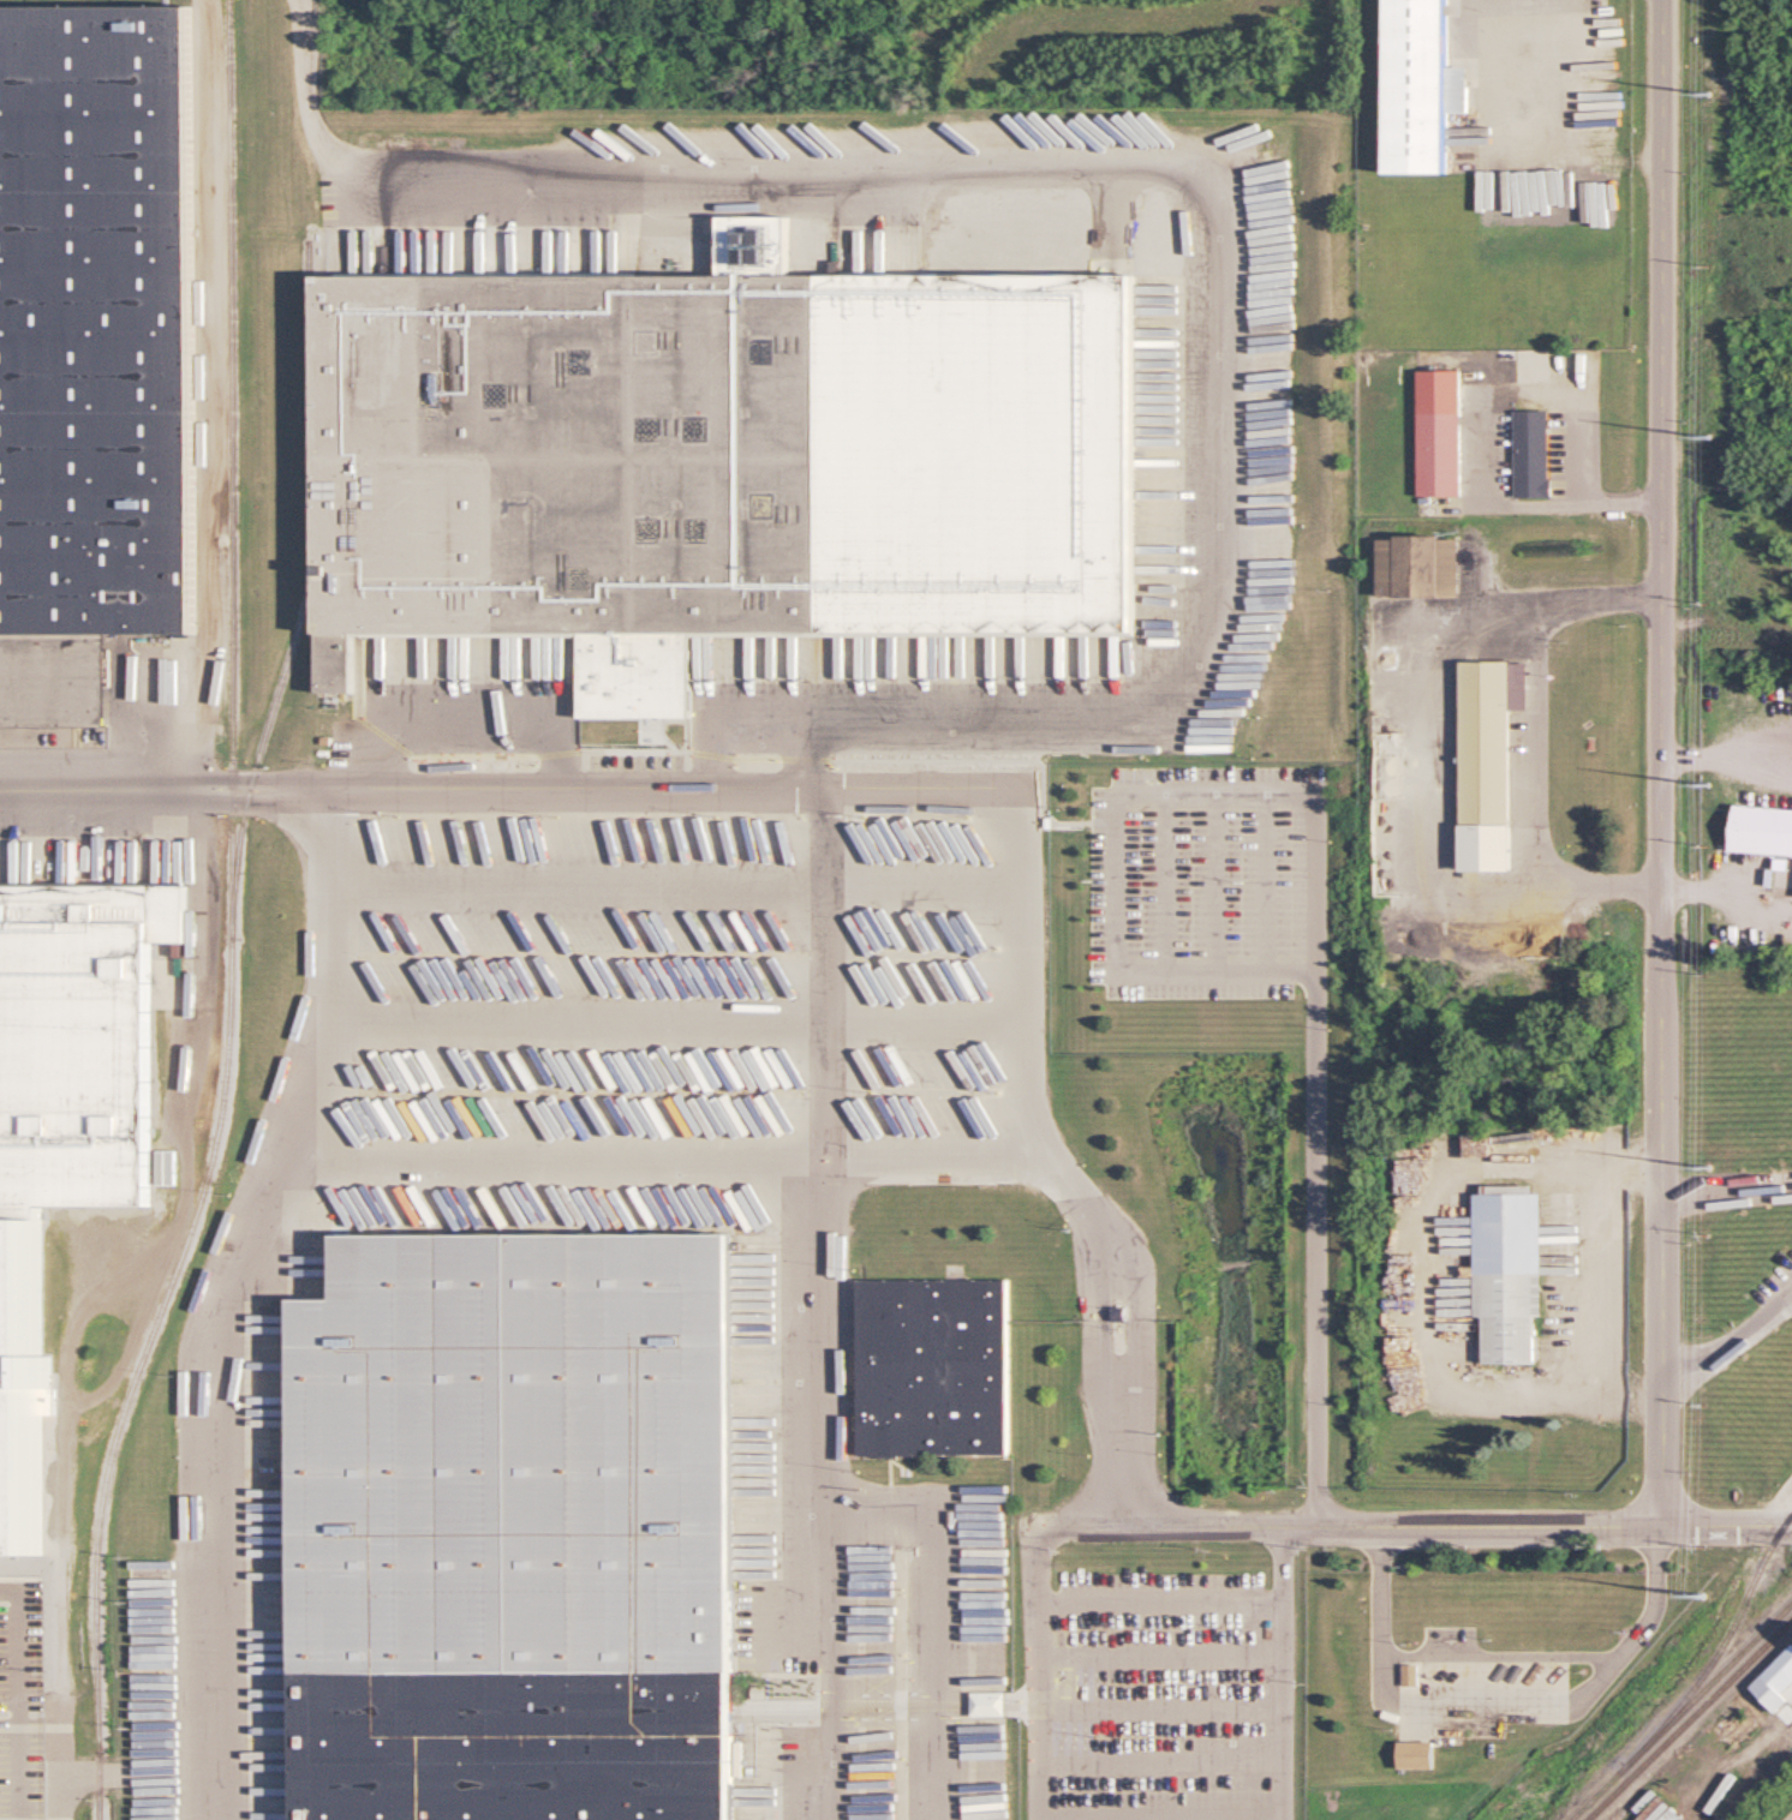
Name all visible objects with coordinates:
road: (1521, 77)
building: (1420, 85)
road: (310, 90)
road: (1206, 186)
building: (91, 333)
road: (205, 389)
road: (1577, 417)
building: (709, 425)
building: (1440, 433)
road: (1487, 450)
building: (1531, 454)
road: (1591, 505)
building: (1420, 567)
railway: (305, 574)
road: (758, 695)
road: (461, 704)
road: (1728, 741)
road: (1535, 742)
building: (1488, 760)
road: (1666, 764)
road: (1430, 765)
road: (900, 783)
road: (1073, 819)
building: (1762, 831)
road: (676, 860)
road: (1113, 882)
road: (1164, 884)
road: (1213, 884)
road: (1261, 884)
road: (1731, 896)
railway: (229, 918)
road: (834, 965)
road: (674, 1000)
building: (66, 1085)
road: (482, 1155)
road: (1324, 1162)
building: (166, 1167)
road: (1728, 1192)
building: (1504, 1269)
road: (1417, 1276)
road: (1596, 1280)
road: (835, 1323)
road: (1728, 1346)
building: (927, 1363)
road: (223, 1477)
road: (872, 1497)
road: (1776, 1508)
building: (510, 1511)
road: (1462, 1526)
road: (1161, 1596)
road: (1040, 1626)
railway: (1719, 1647)
road: (1161, 1650)
road: (1283, 1672)
building: (1410, 1675)
building: (1774, 1682)
road: (19, 1696)
road: (1161, 1701)
road: (1498, 1704)
railway: (1682, 1712)
railway: (1689, 1719)
building: (1416, 1755)
road: (1163, 1760)
road: (1163, 1814)

